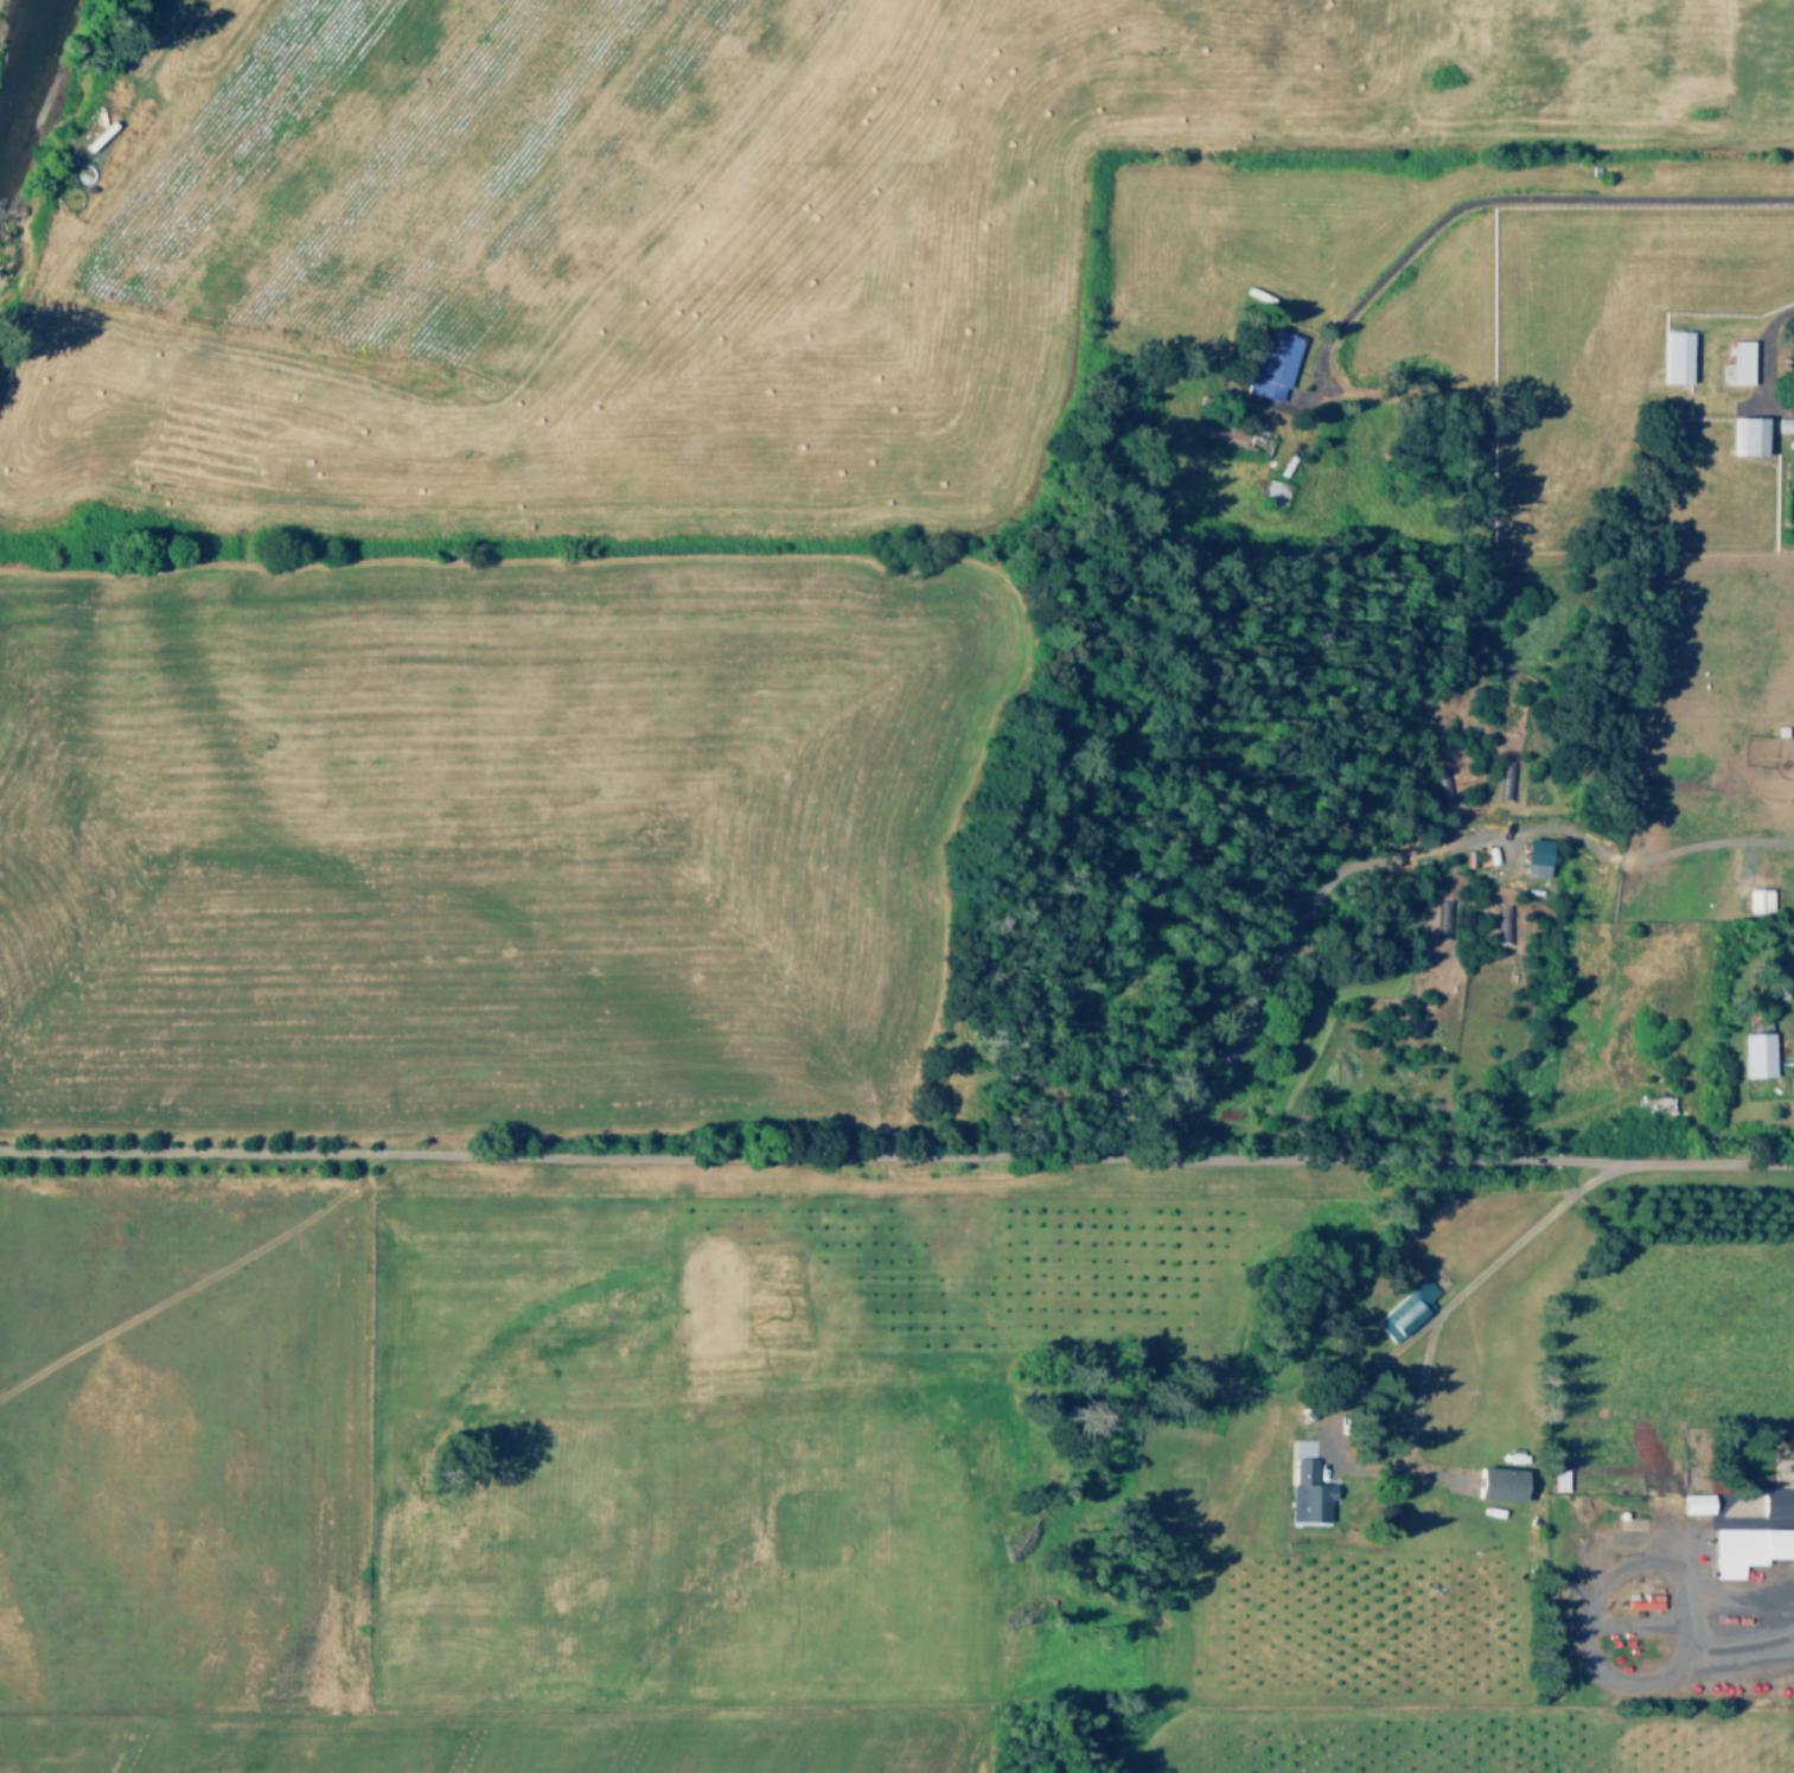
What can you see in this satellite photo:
road: (132, 72)
river: (36, 96)
building: (96, 135)
road: (1489, 198)
road: (1764, 352)
building: (1674, 357)
building: (1736, 364)
building: (1271, 365)
building: (1212, 422)
building: (1748, 436)
road: (1605, 854)
building: (1532, 868)
building: (1757, 899)
building: (1793, 994)
building: (1756, 1054)
road: (896, 1155)
building: (1402, 1313)
road: (1375, 1366)
road: (1431, 1473)
building: (1558, 1479)
building: (1498, 1482)
building: (1309, 1492)
building: (1779, 1498)
building: (1696, 1504)
building: (1749, 1548)
road: (1754, 1597)
road: (1591, 1599)
building: (1645, 1601)

